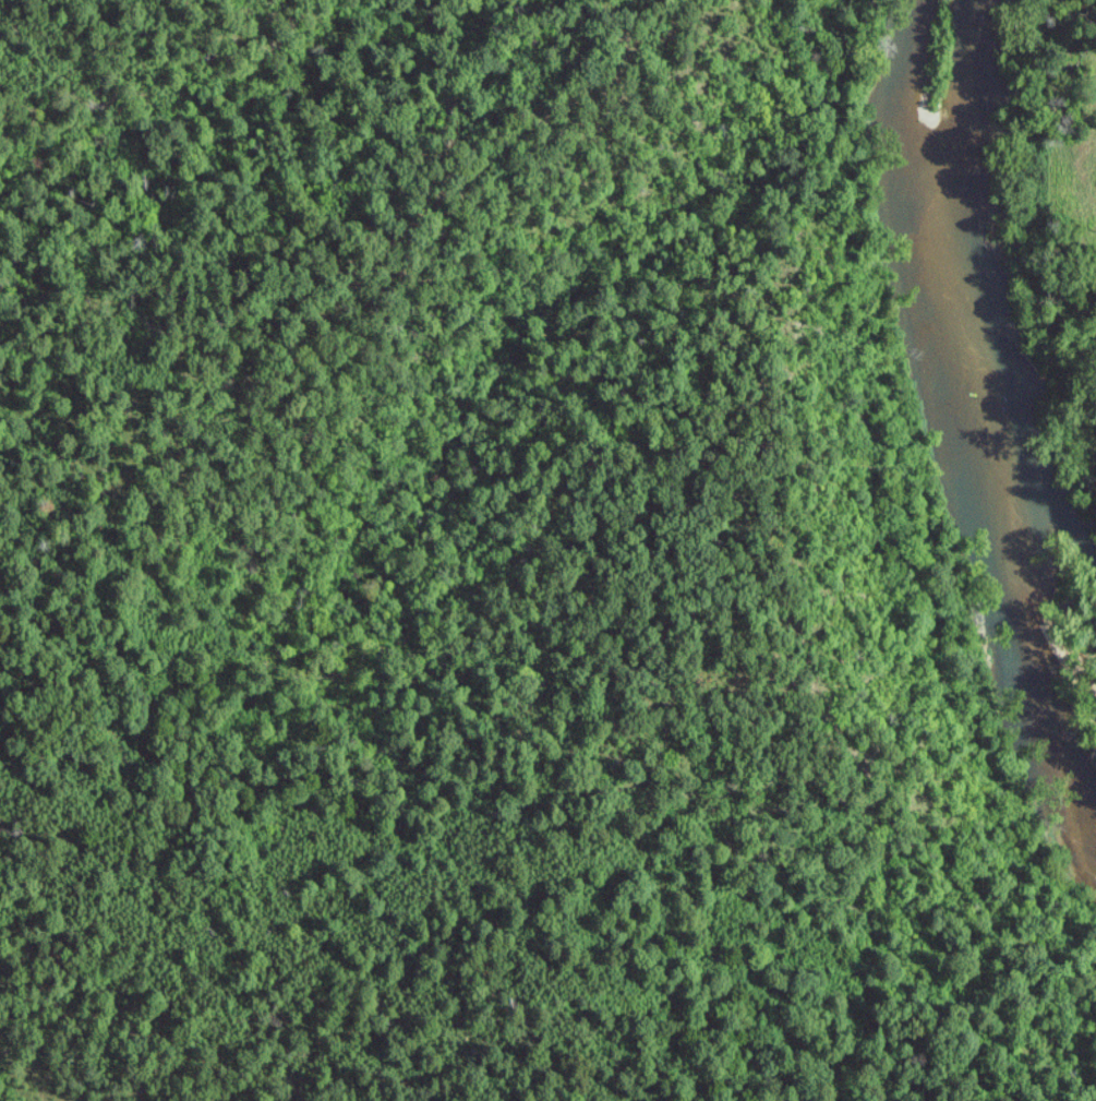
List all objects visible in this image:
river: (960, 424)

